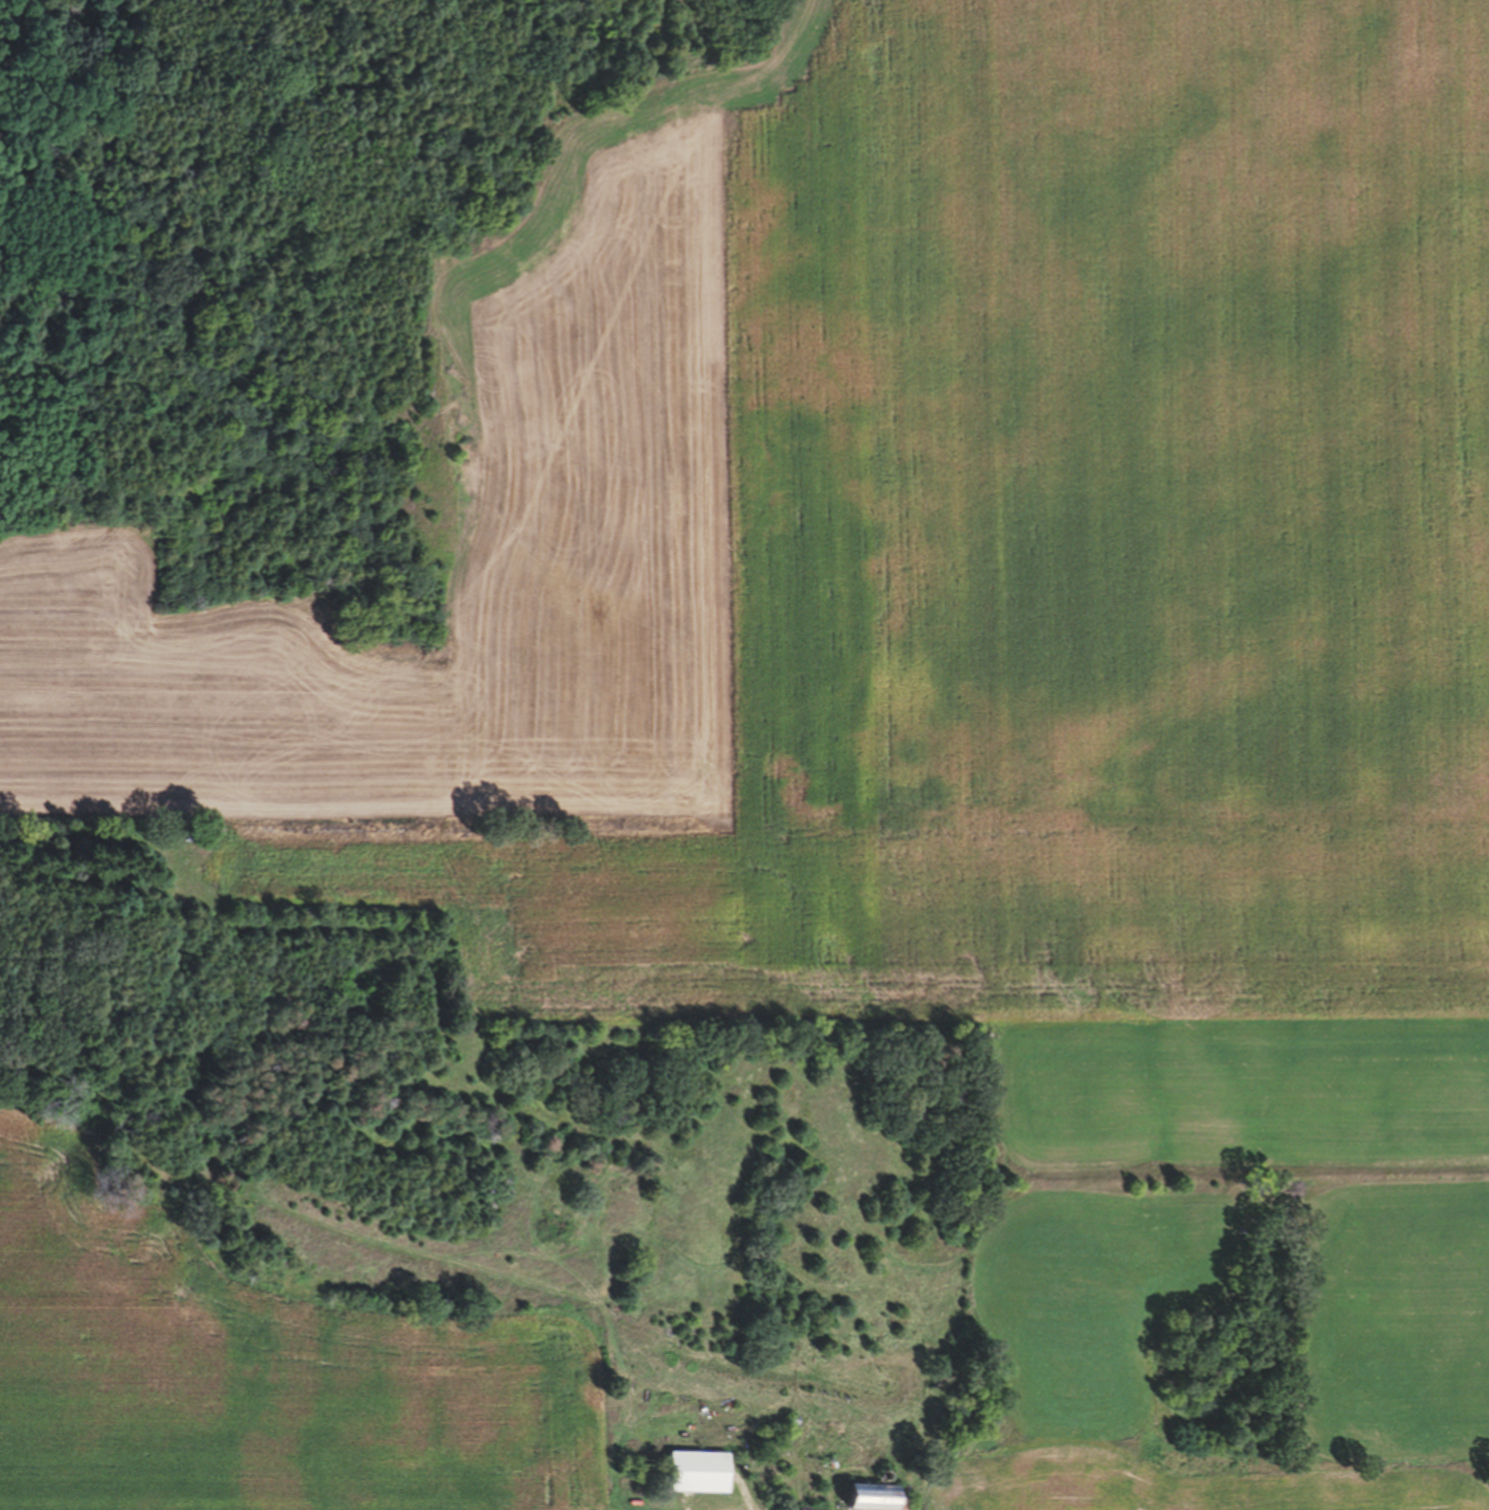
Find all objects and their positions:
building: (697, 1479)
building: (871, 1501)

